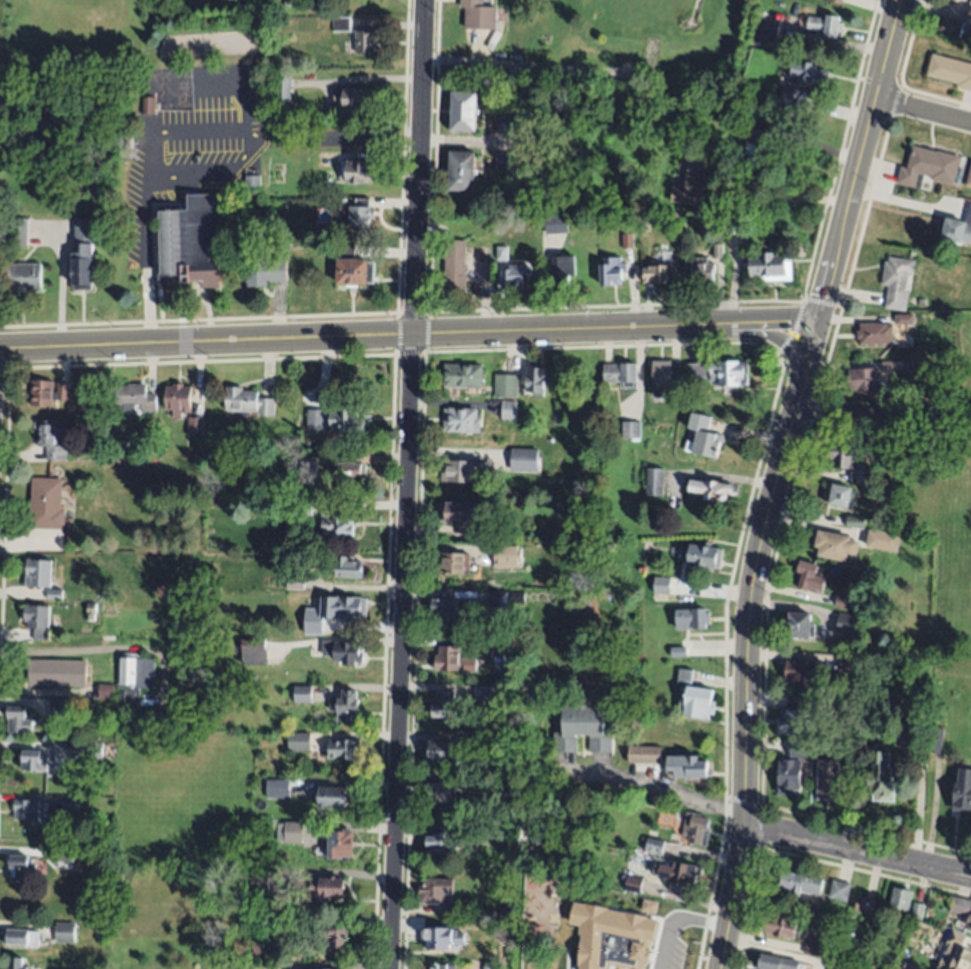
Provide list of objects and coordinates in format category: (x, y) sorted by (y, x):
building: (963, 0)
building: (837, 1)
building: (286, 3)
building: (969, 8)
building: (479, 13)
building: (341, 24)
building: (826, 25)
building: (766, 27)
building: (950, 27)
building: (365, 41)
park: (658, 50)
road: (516, 66)
building: (950, 70)
building: (801, 79)
building: (752, 87)
building: (282, 89)
building: (357, 98)
building: (146, 106)
road: (923, 110)
building: (463, 111)
building: (511, 125)
building: (740, 126)
road: (333, 139)
building: (756, 156)
road: (149, 157)
building: (510, 161)
road: (859, 161)
building: (928, 166)
building: (461, 171)
building: (356, 172)
building: (969, 179)
building: (252, 180)
building: (691, 184)
building: (355, 214)
road: (147, 222)
building: (734, 222)
building: (556, 224)
building: (645, 226)
building: (957, 231)
building: (17, 232)
building: (627, 240)
building: (204, 241)
building: (172, 249)
building: (717, 250)
building: (82, 254)
building: (502, 254)
building: (455, 266)
building: (770, 266)
building: (354, 268)
road: (147, 271)
building: (266, 271)
building: (612, 271)
building: (704, 271)
building: (561, 273)
building: (655, 274)
building: (514, 277)
building: (21, 278)
road: (147, 280)
building: (896, 282)
road: (59, 287)
road: (147, 315)
building: (903, 319)
building: (874, 333)
road: (408, 335)
road: (778, 339)
building: (891, 365)
building: (697, 370)
building: (729, 373)
building: (620, 374)
building: (463, 376)
building: (663, 380)
building: (535, 381)
building: (863, 381)
building: (505, 383)
building: (48, 393)
building: (135, 398)
building: (179, 400)
building: (248, 402)
building: (508, 410)
road: (883, 410)
road: (809, 419)
building: (315, 420)
building: (345, 420)
building: (461, 420)
building: (195, 425)
building: (630, 430)
building: (117, 432)
building: (51, 438)
building: (703, 438)
building: (522, 459)
building: (849, 463)
building: (306, 467)
building: (463, 468)
building: (345, 471)
road: (754, 476)
building: (653, 482)
road: (405, 484)
building: (709, 490)
building: (839, 495)
building: (47, 504)
building: (299, 508)
building: (459, 513)
building: (855, 521)
building: (336, 523)
building: (479, 533)
building: (882, 541)
building: (835, 547)
building: (500, 554)
building: (704, 556)
building: (272, 559)
building: (453, 563)
building: (347, 568)
building: (38, 574)
building: (808, 577)
building: (295, 581)
building: (661, 585)
building: (54, 595)
building: (516, 597)
building: (842, 602)
building: (498, 603)
building: (89, 607)
building: (347, 608)
building: (452, 613)
building: (691, 618)
building: (37, 621)
building: (846, 624)
building: (798, 625)
road: (747, 642)
building: (474, 647)
road: (72, 651)
building: (254, 651)
building: (343, 652)
building: (677, 652)
building: (447, 659)
building: (848, 664)
building: (57, 672)
building: (800, 672)
building: (683, 676)
building: (253, 679)
building: (134, 681)
building: (105, 691)
road: (46, 692)
building: (303, 694)
building: (482, 694)
building: (344, 702)
building: (697, 702)
building: (810, 703)
building: (445, 706)
building: (61, 708)
building: (912, 718)
building: (18, 720)
building: (795, 722)
building: (582, 729)
building: (134, 733)
building: (851, 736)
building: (934, 738)
building: (299, 742)
building: (850, 747)
building: (87, 751)
building: (342, 751)
building: (440, 751)
building: (799, 751)
building: (643, 754)
building: (35, 761)
building: (687, 767)
building: (830, 775)
building: (789, 776)
building: (881, 778)
building: (473, 783)
building: (278, 789)
building: (962, 791)
building: (439, 792)
road: (652, 793)
building: (330, 796)
building: (70, 806)
building: (29, 810)
road: (848, 826)
building: (693, 829)
building: (290, 832)
building: (267, 834)
building: (444, 840)
building: (339, 844)
building: (654, 846)
road: (857, 850)
building: (64, 855)
building: (21, 867)
road: (845, 870)
building: (678, 873)
building: (259, 881)
building: (799, 883)
building: (632, 884)
building: (329, 887)
building: (839, 890)
building: (435, 891)
building: (900, 899)
building: (864, 904)
building: (649, 906)
building: (960, 906)
building: (453, 908)
building: (917, 911)
building: (969, 922)
building: (782, 926)
building: (970, 930)
building: (64, 932)
building: (335, 934)
building: (21, 937)
building: (443, 938)
building: (256, 947)
building: (673, 948)
building: (811, 950)
building: (956, 953)
building: (617, 962)
building: (776, 962)
building: (17, 964)
building: (439, 966)
building: (838, 966)

